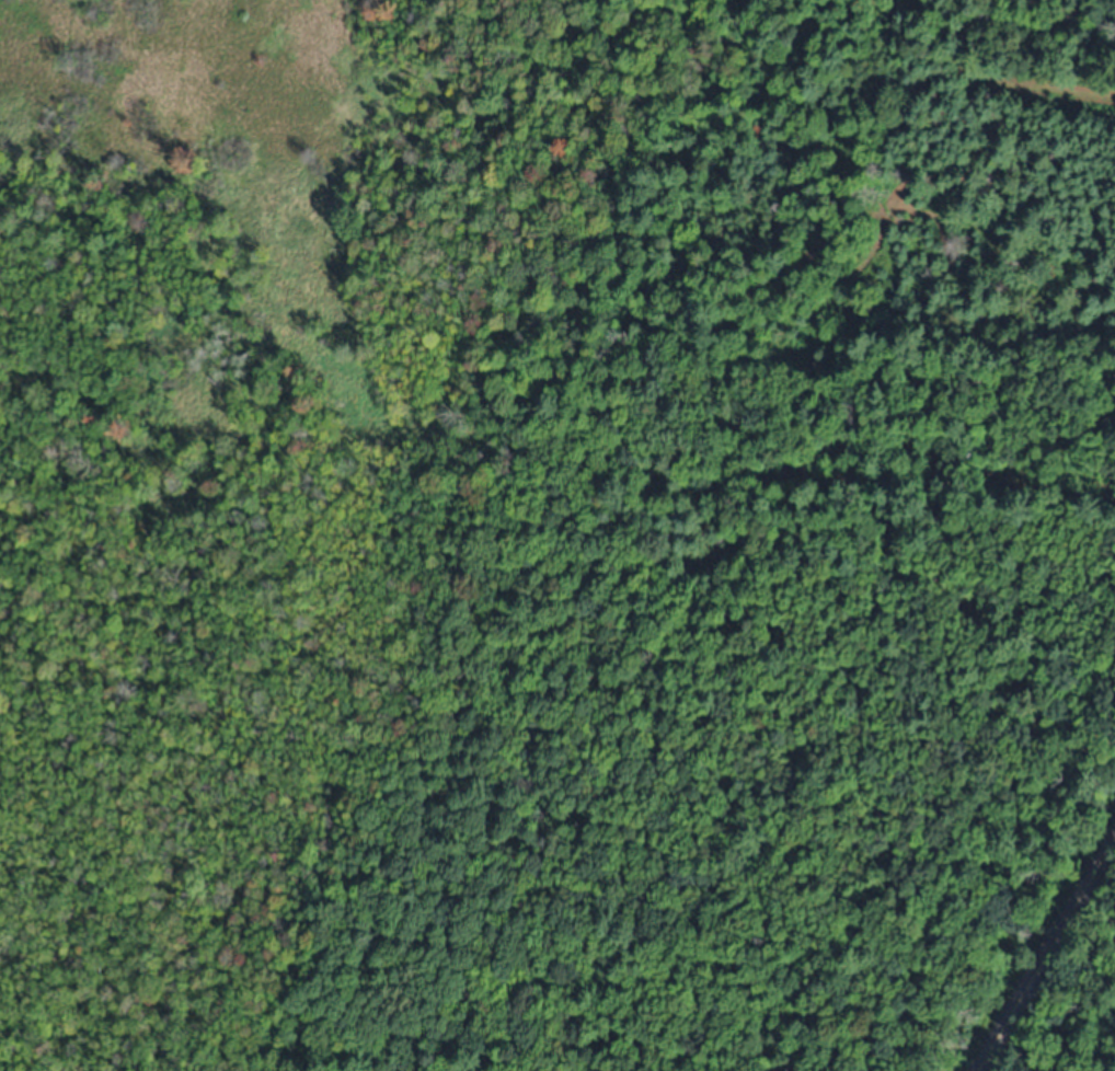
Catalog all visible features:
road: (1047, 959)

